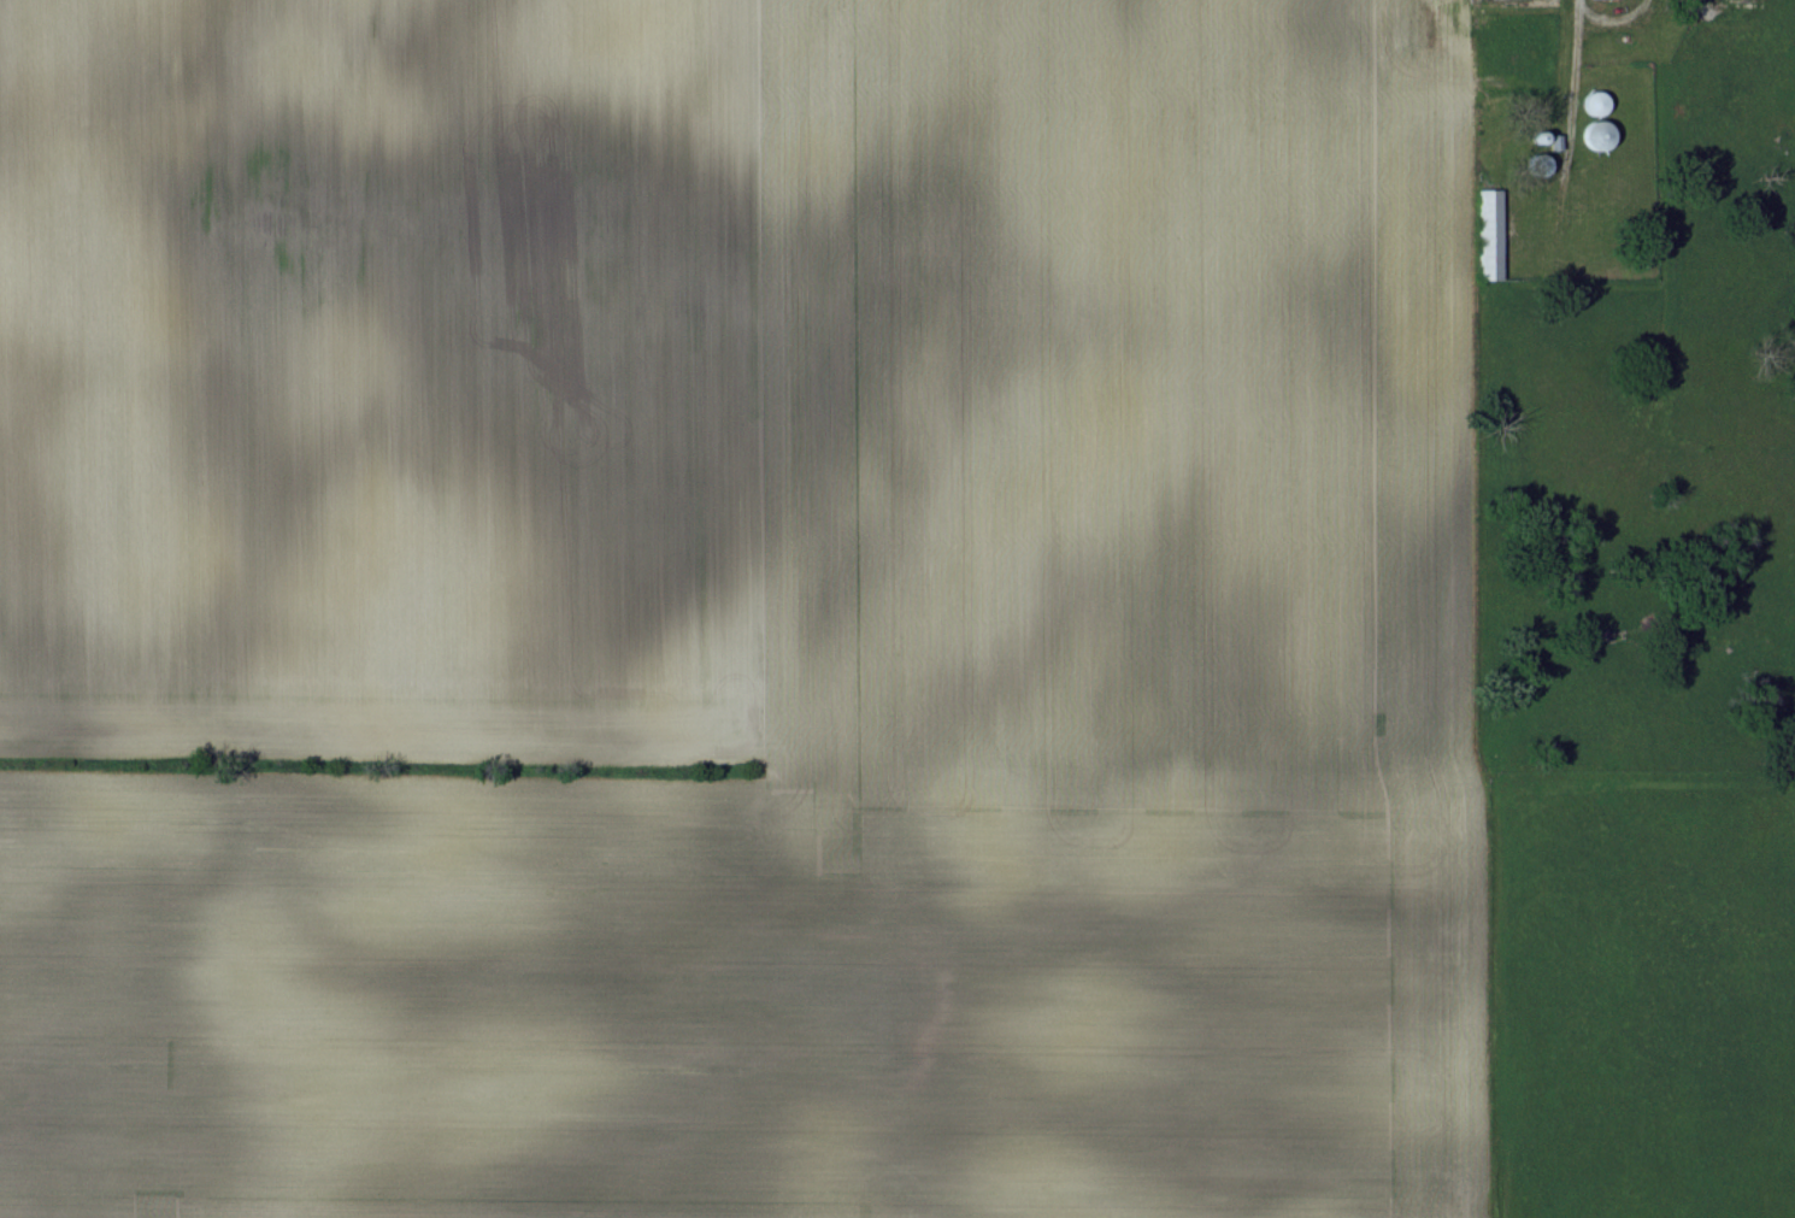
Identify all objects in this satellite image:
building: (1490, 234)

